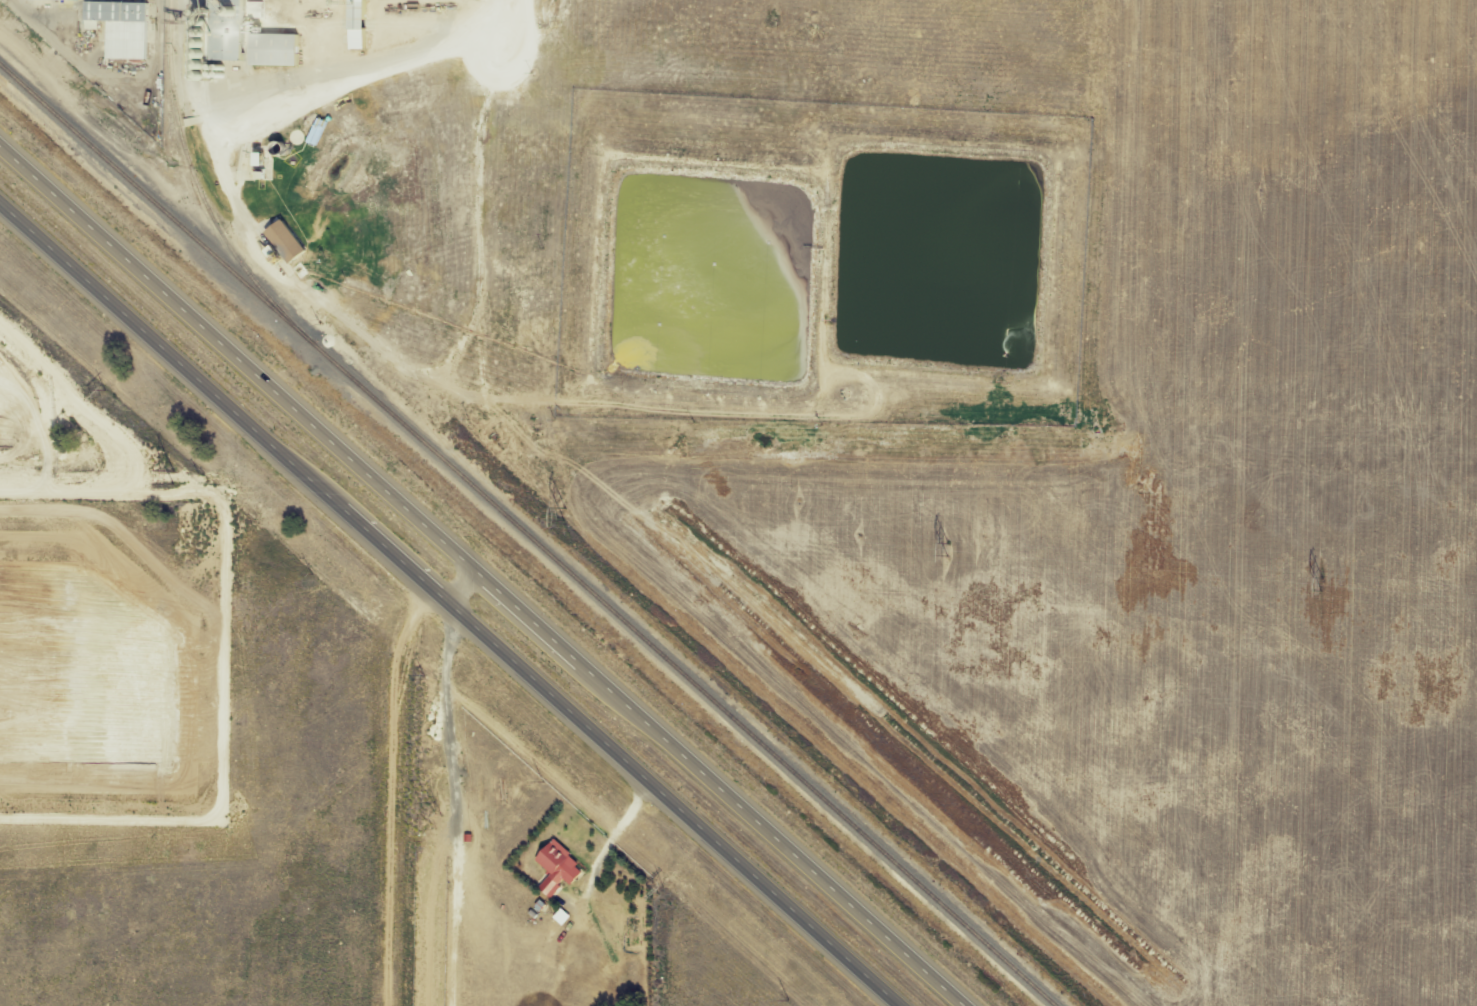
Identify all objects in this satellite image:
building: (55, 4)
building: (128, 12)
building: (359, 29)
building: (281, 51)
building: (242, 54)
building: (107, 89)
railway: (192, 177)
building: (287, 243)
power tower: (170, 474)
power tower: (563, 511)
railway: (527, 535)
power tower: (945, 551)
road: (487, 573)
power tower: (1322, 584)
road: (463, 588)
road: (445, 608)
road: (605, 849)
building: (560, 864)

